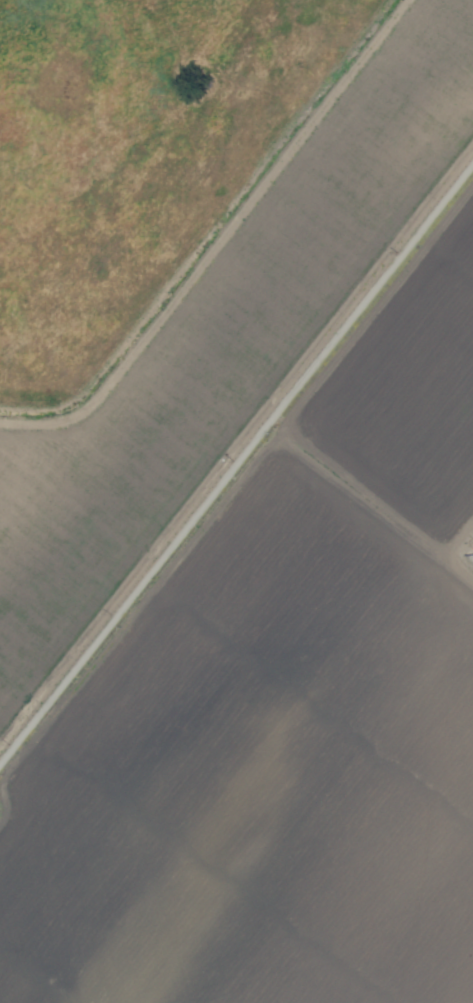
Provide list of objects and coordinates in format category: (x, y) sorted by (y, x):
road: (236, 468)
crop: (236, 501)

